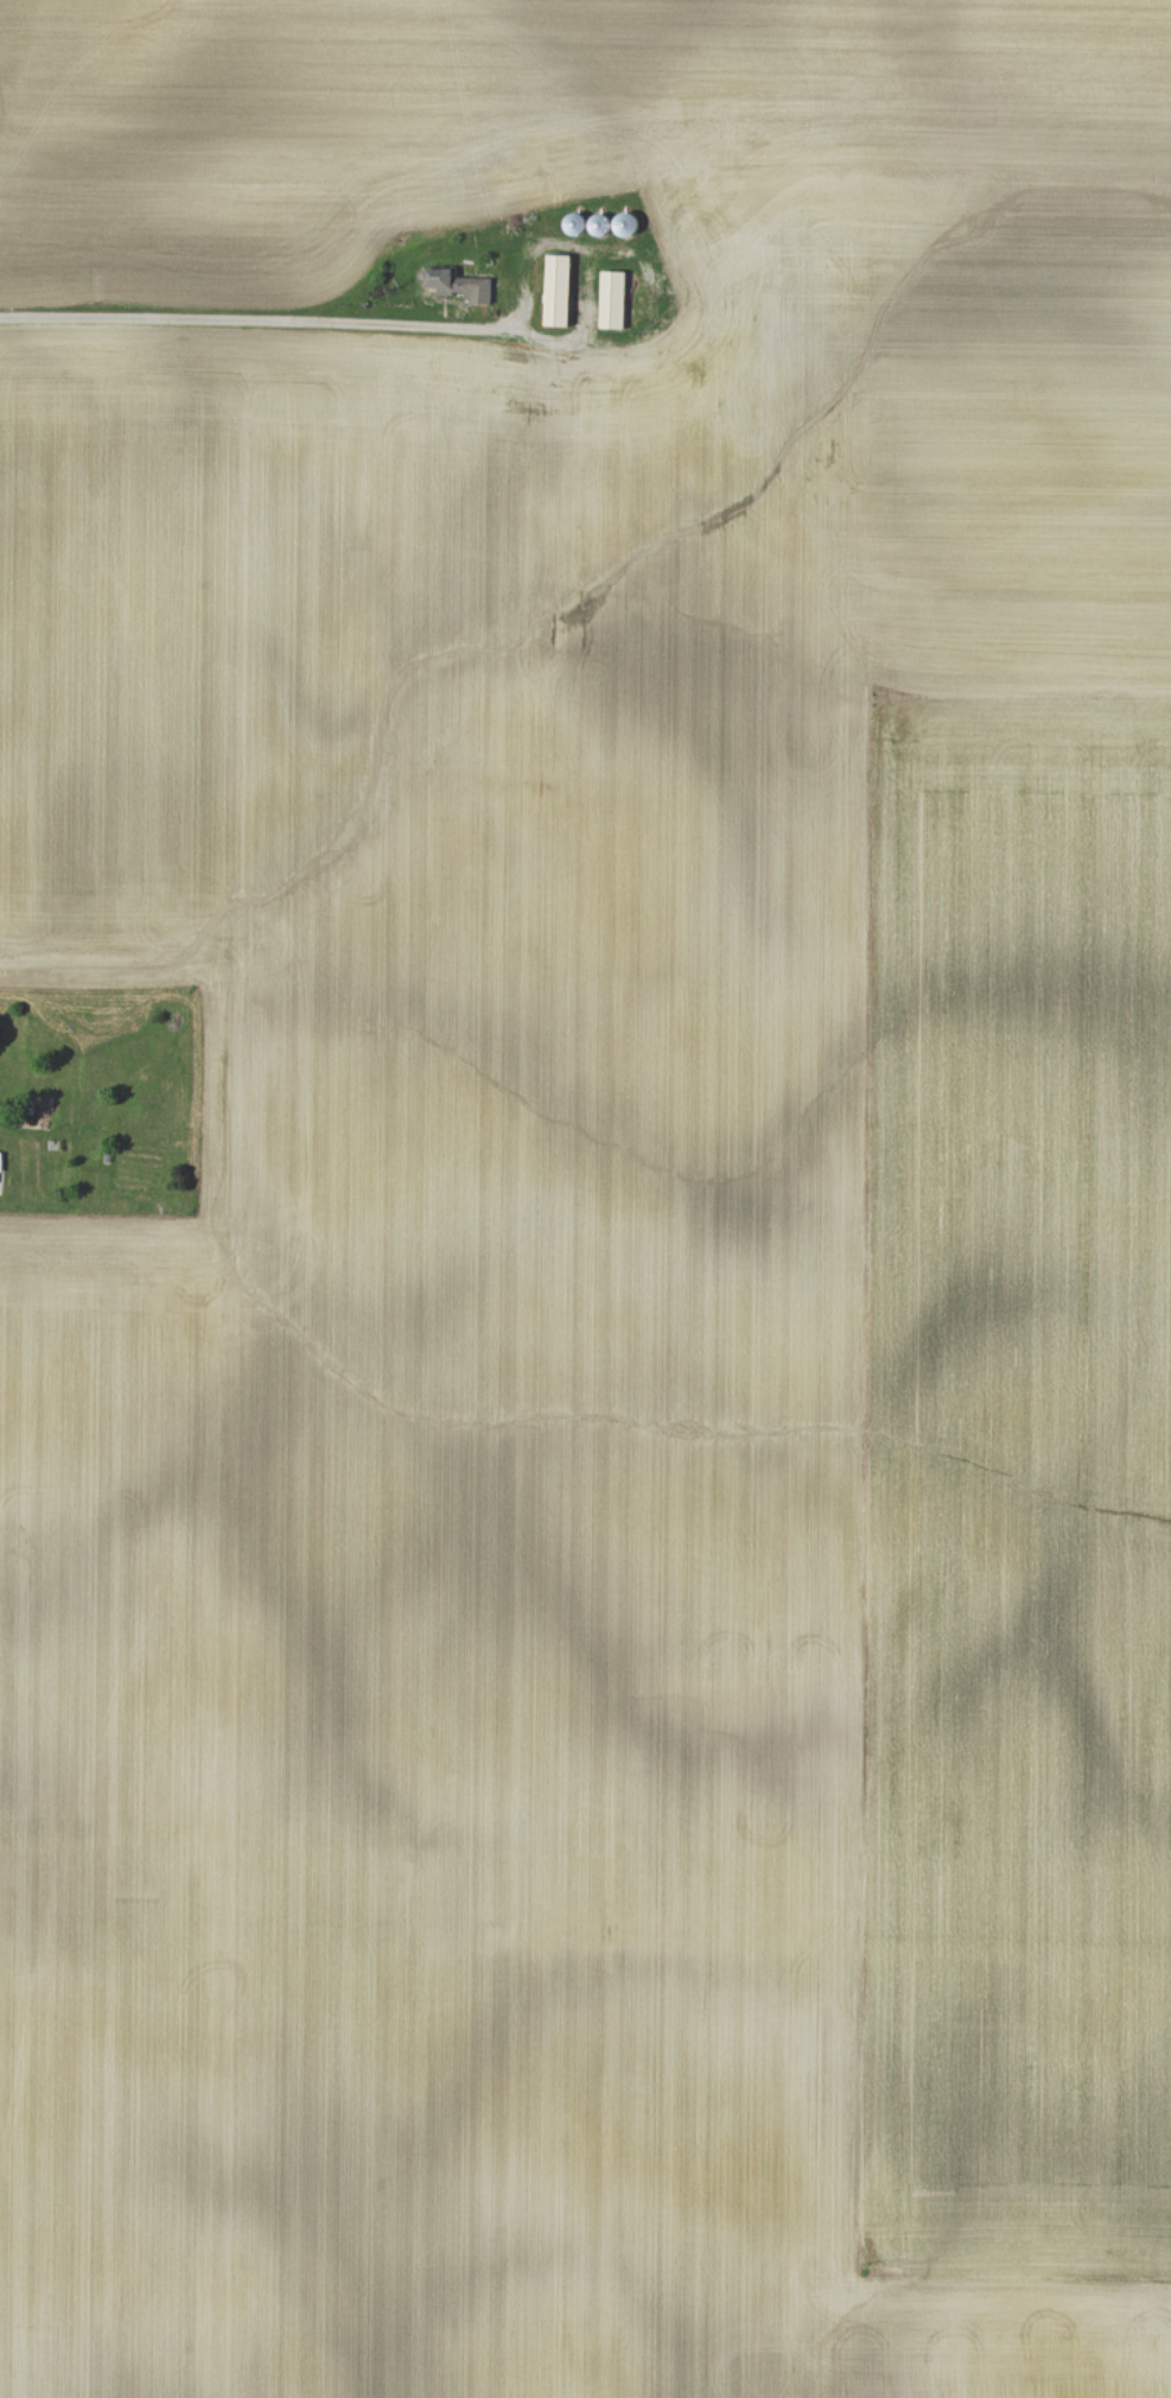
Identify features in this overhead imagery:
road: (269, 322)
road: (369, 1522)

